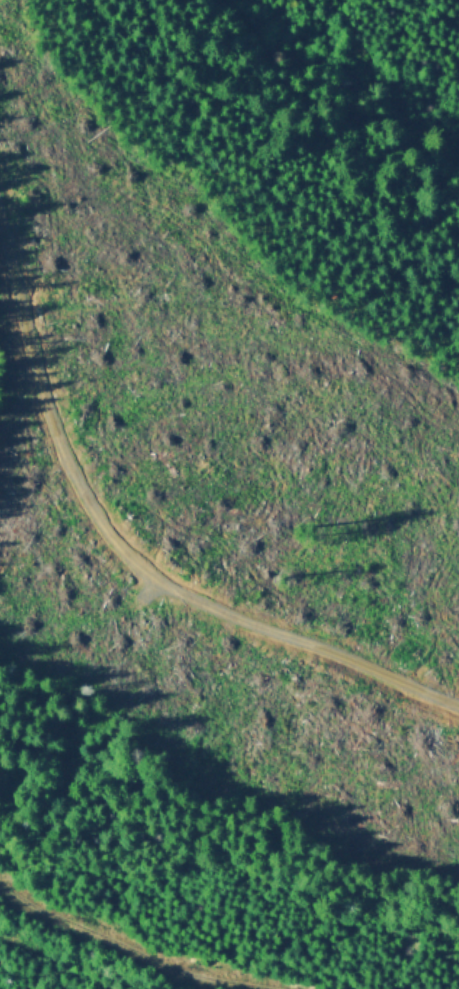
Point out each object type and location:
road: (134, 460)
road: (110, 627)

